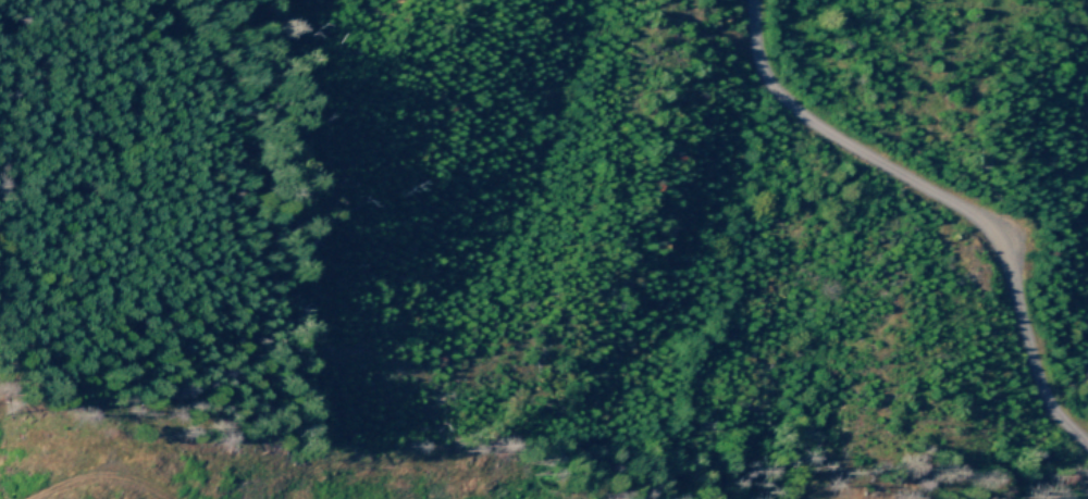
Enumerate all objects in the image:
road: (942, 201)
road: (97, 476)

